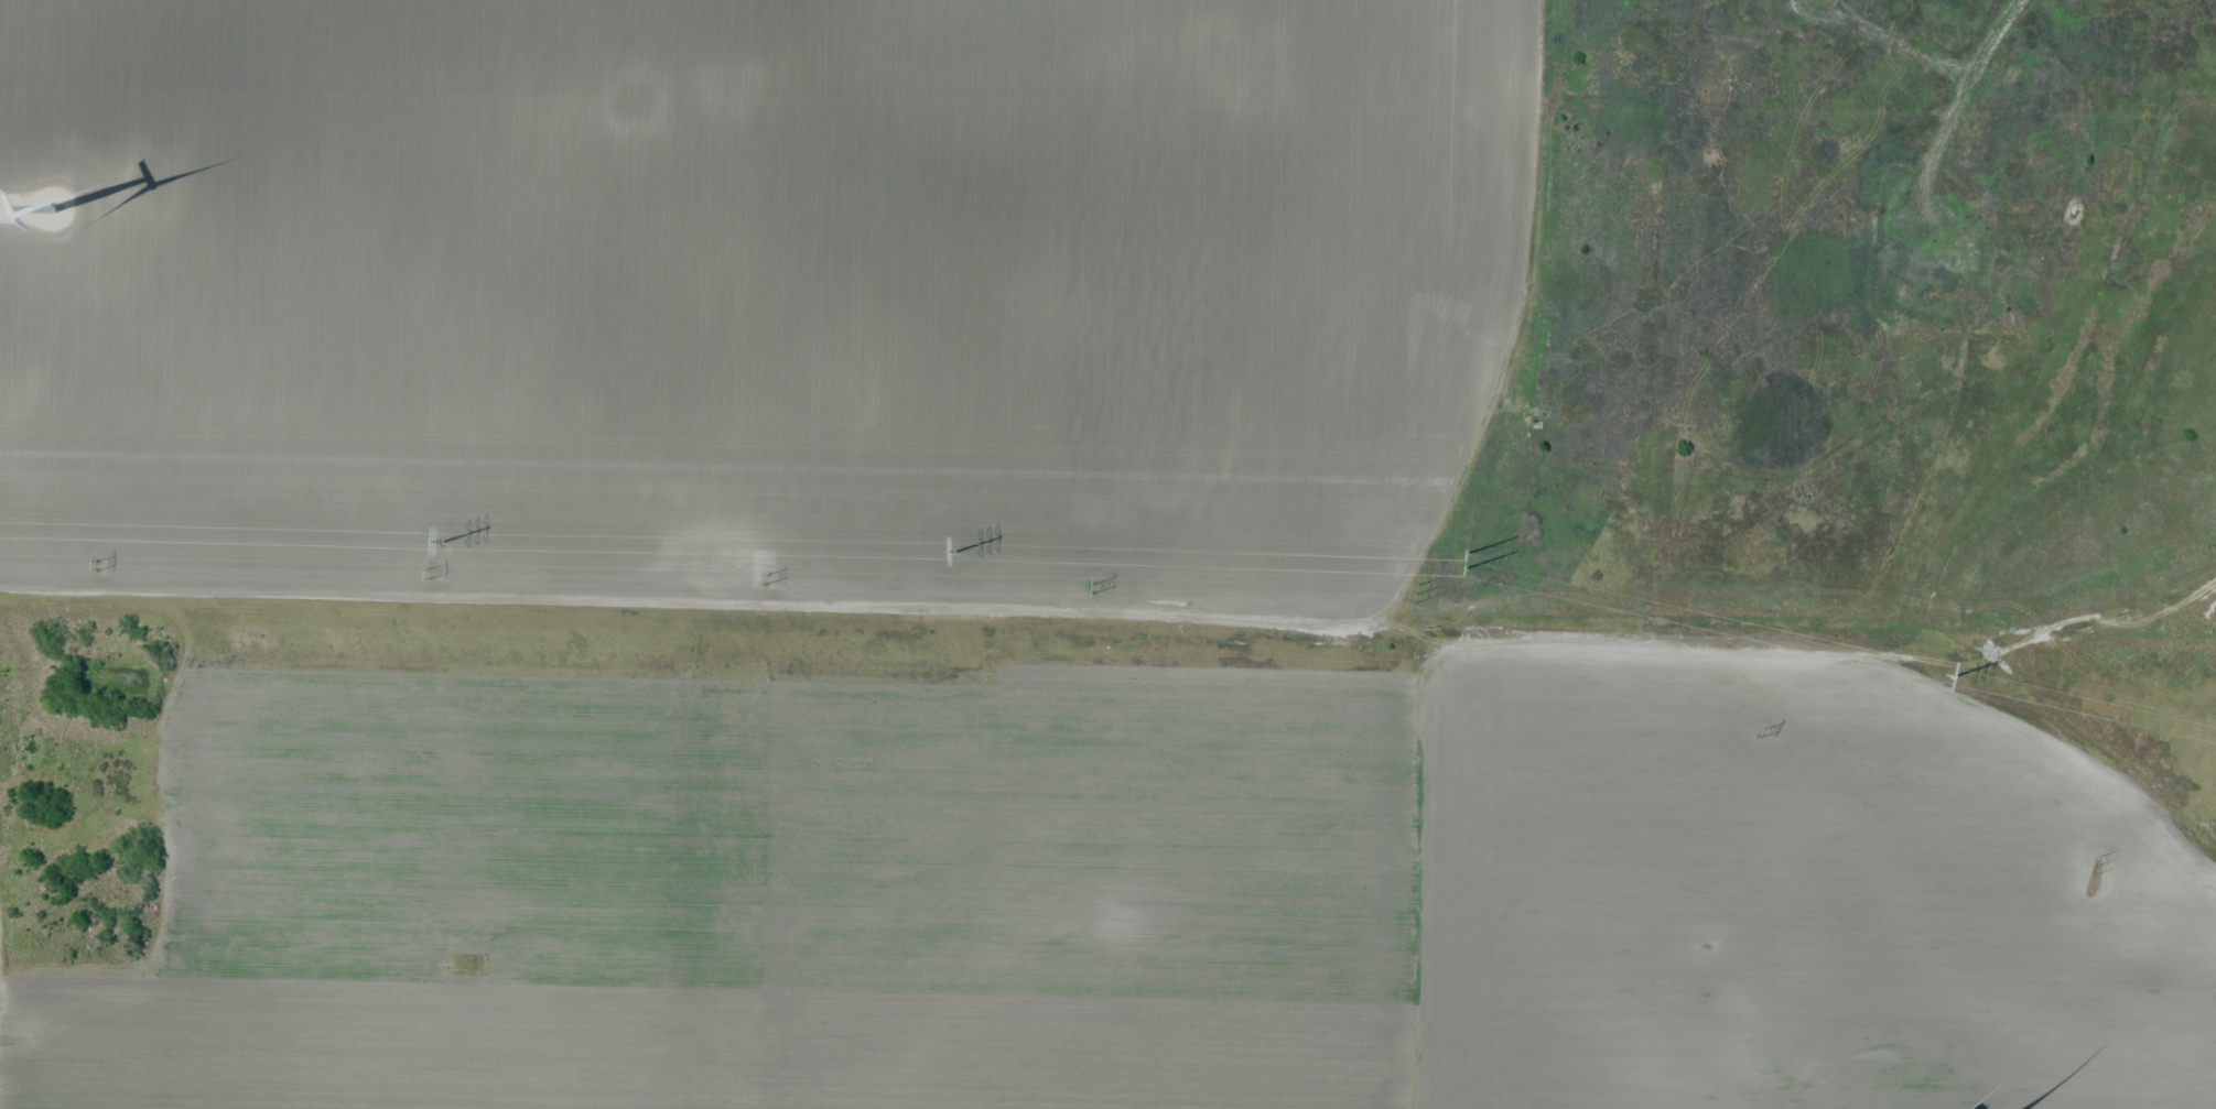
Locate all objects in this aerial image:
wind turbine: (54, 206)
road: (15, 209)
power tower: (441, 541)
power tower: (951, 552)
power tower: (1466, 559)
power tower: (95, 566)
power tower: (431, 574)
power tower: (765, 584)
power tower: (1091, 589)
power tower: (1415, 592)
road: (1115, 623)
power tower: (1950, 674)
power tower: (1758, 732)
power tower: (2094, 868)

